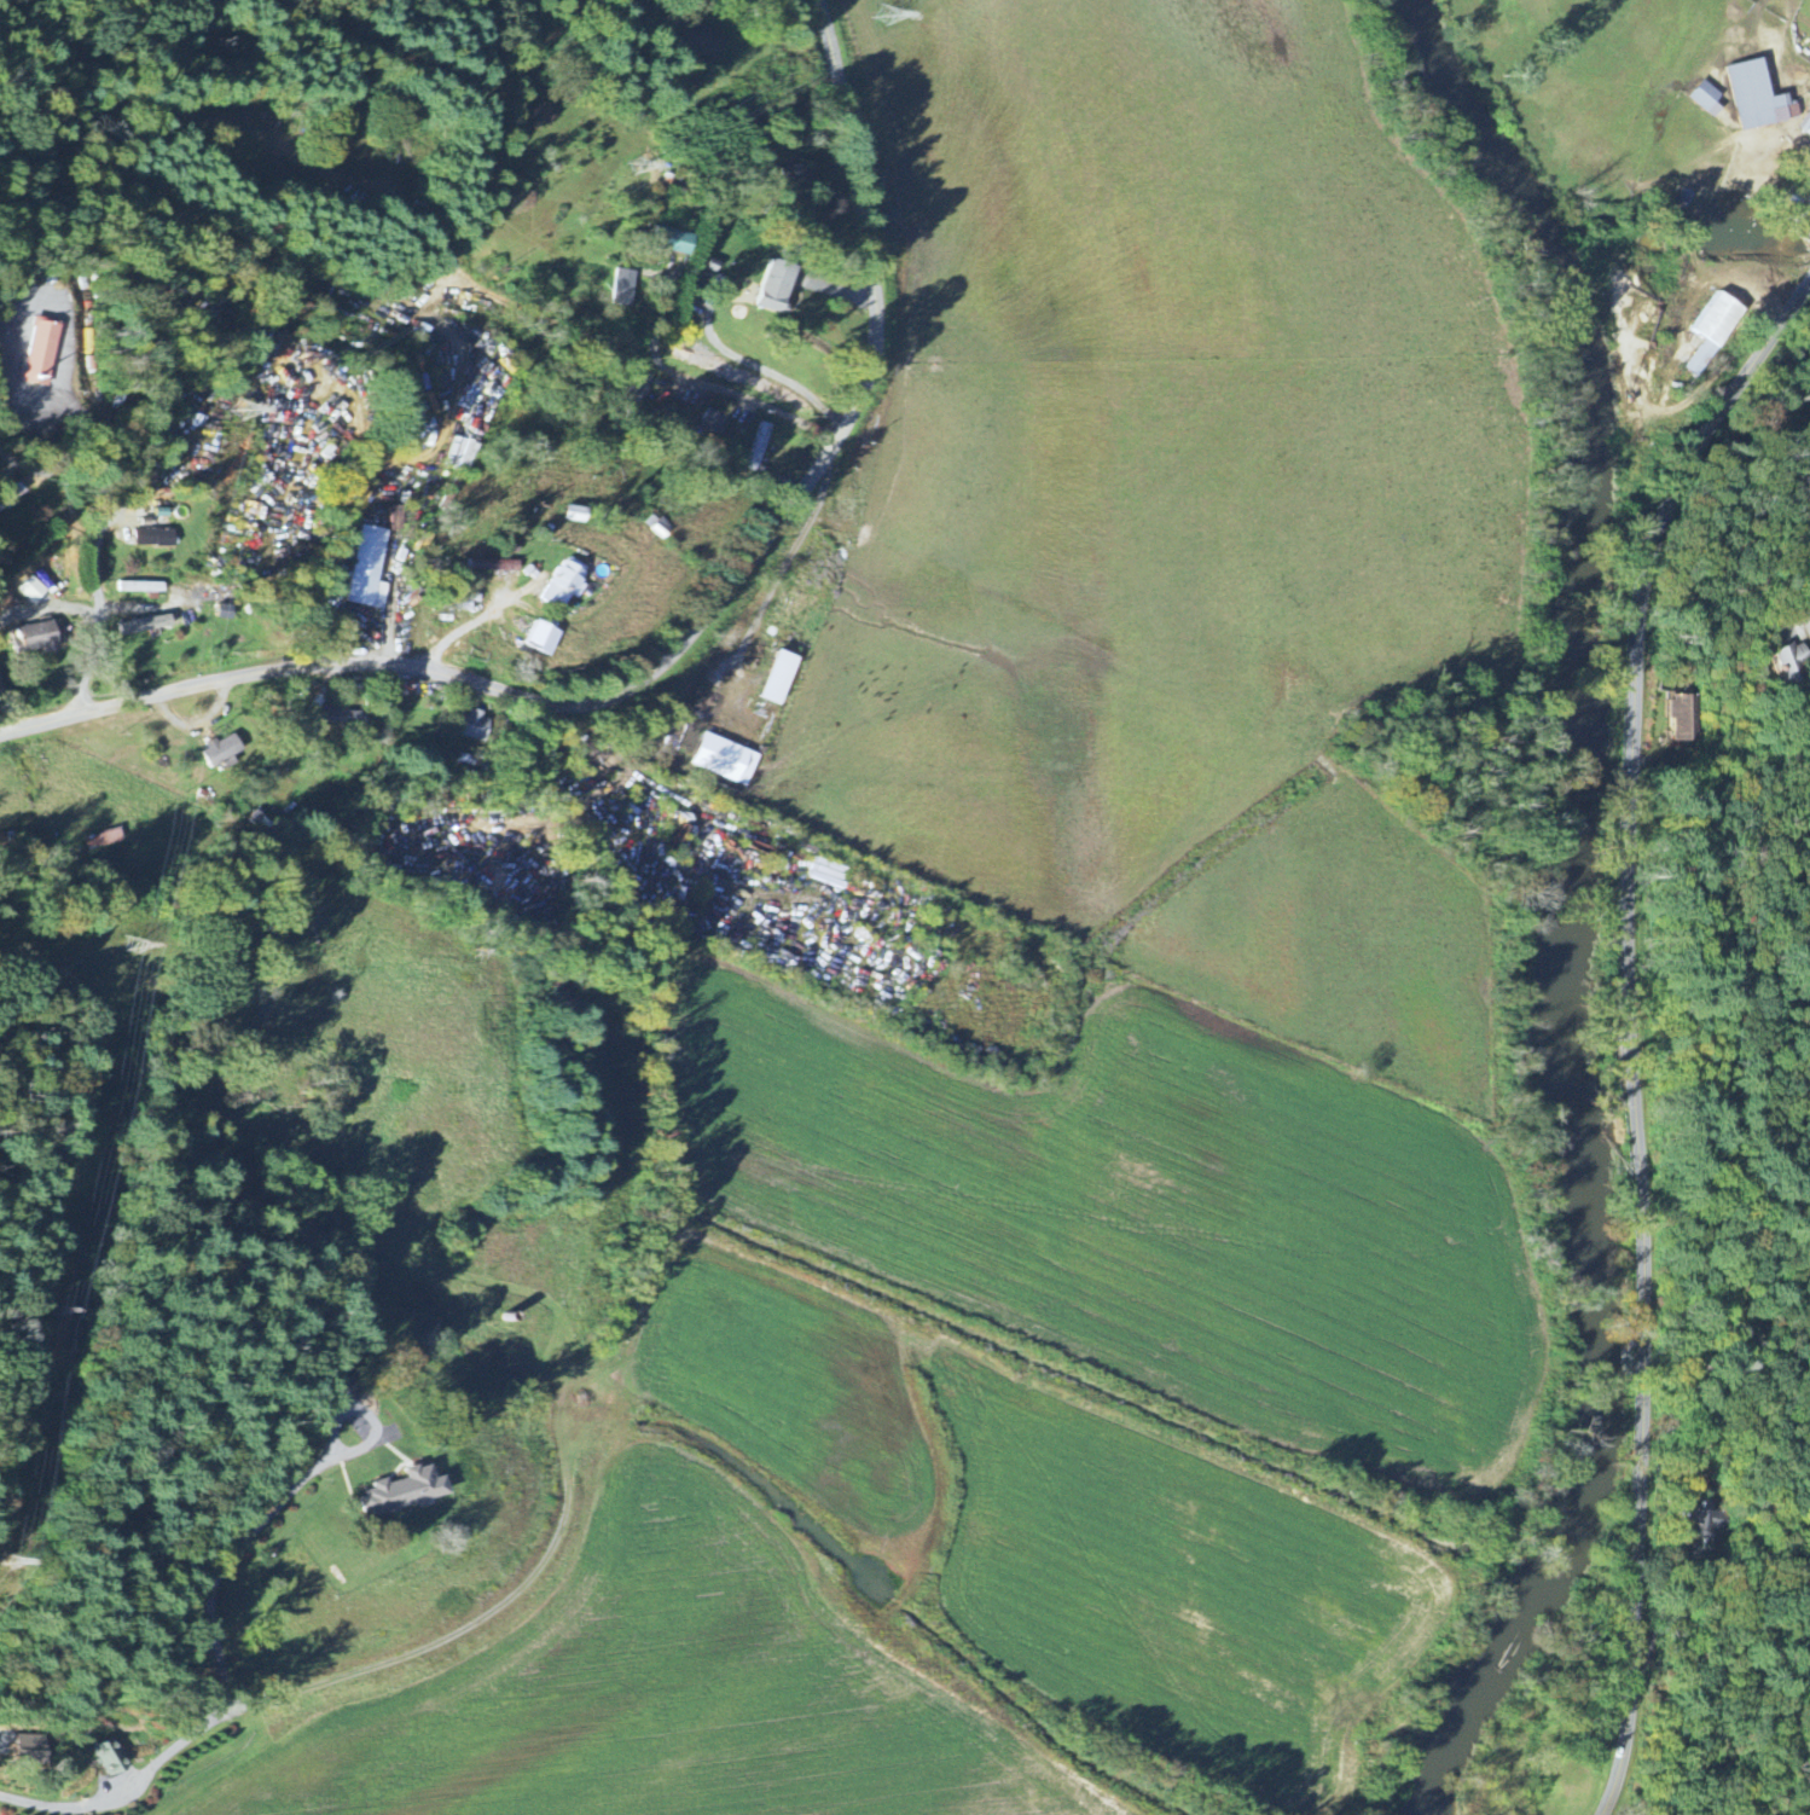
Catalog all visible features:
power tower: (882, 12)
building: (1751, 97)
building: (1704, 99)
building: (1805, 124)
river: (1487, 161)
power tower: (631, 166)
building: (1786, 203)
building: (669, 240)
building: (770, 288)
building: (620, 289)
road: (552, 323)
building: (1707, 330)
building: (37, 349)
road: (755, 367)
road: (744, 398)
power tower: (227, 407)
building: (756, 447)
building: (10, 497)
building: (652, 527)
building: (149, 538)
road: (98, 550)
building: (364, 568)
building: (556, 585)
building: (220, 611)
road: (464, 630)
building: (31, 638)
building: (533, 638)
road: (679, 644)
building: (771, 678)
building: (1683, 719)
building: (469, 725)
building: (217, 754)
building: (719, 760)
building: (101, 840)
power tower: (117, 947)
river: (1571, 978)
road: (1635, 1030)
power tower: (40, 1307)
building: (383, 1495)
building: (1706, 1523)
road: (222, 1687)
river: (1462, 1715)
building: (24, 1757)
building: (109, 1757)

